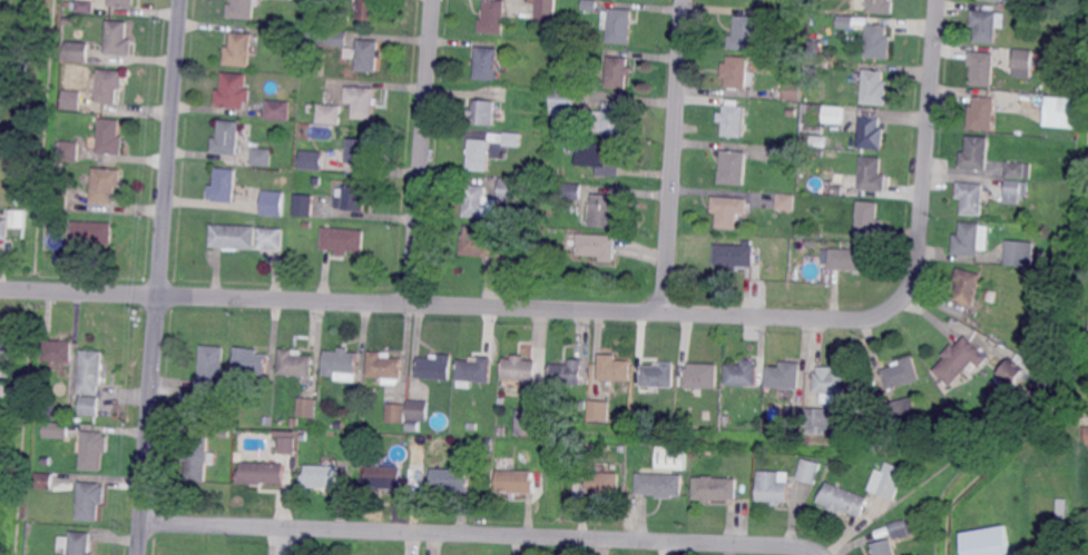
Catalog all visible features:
building: (0, 0)
building: (321, 0)
building: (993, 0)
building: (1011, 1)
building: (122, 2)
building: (68, 4)
building: (591, 4)
building: (36, 6)
building: (73, 6)
building: (86, 6)
building: (880, 7)
building: (243, 9)
building: (546, 9)
building: (369, 10)
building: (1032, 14)
building: (494, 17)
building: (68, 19)
building: (846, 21)
building: (987, 23)
building: (620, 24)
building: (1, 27)
building: (744, 33)
building: (311, 36)
building: (334, 37)
building: (118, 39)
building: (878, 42)
building: (813, 49)
building: (241, 50)
building: (77, 52)
building: (350, 52)
building: (367, 56)
building: (788, 59)
building: (488, 62)
building: (1022, 62)
building: (983, 68)
building: (808, 70)
building: (620, 71)
building: (19, 73)
building: (737, 73)
building: (109, 86)
building: (874, 87)
building: (792, 88)
building: (235, 90)
building: (75, 99)
building: (563, 99)
building: (362, 101)
building: (280, 109)
building: (312, 109)
building: (484, 111)
building: (1061, 112)
building: (331, 113)
building: (791, 113)
building: (984, 113)
building: (834, 115)
building: (615, 118)
building: (734, 120)
building: (553, 129)
building: (870, 133)
building: (110, 138)
building: (229, 138)
building: (802, 141)
road: (675, 145)
building: (837, 146)
road: (927, 146)
building: (489, 149)
building: (69, 151)
building: (360, 151)
road: (423, 152)
building: (977, 152)
building: (263, 156)
building: (788, 156)
building: (311, 158)
building: (600, 158)
building: (59, 167)
building: (734, 167)
building: (1020, 169)
building: (873, 175)
building: (107, 185)
building: (225, 186)
building: (509, 189)
building: (1017, 190)
building: (60, 191)
building: (572, 191)
building: (810, 197)
building: (973, 197)
building: (352, 199)
building: (477, 201)
building: (786, 201)
building: (20, 202)
building: (273, 204)
building: (305, 205)
building: (729, 210)
building: (604, 211)
building: (17, 215)
building: (52, 218)
building: (869, 224)
building: (307, 225)
building: (1042, 228)
building: (4, 229)
building: (92, 234)
building: (808, 234)
building: (235, 236)
building: (272, 238)
building: (971, 239)
building: (344, 240)
building: (481, 242)
building: (597, 245)
building: (1020, 254)
building: (734, 256)
building: (853, 259)
road: (160, 277)
building: (968, 286)
road: (101, 293)
building: (992, 296)
road: (664, 301)
road: (396, 304)
road: (627, 311)
road: (791, 317)
building: (6, 349)
building: (58, 351)
building: (962, 359)
building: (252, 363)
building: (341, 363)
building: (296, 364)
building: (9, 365)
building: (438, 366)
building: (214, 367)
building: (388, 367)
building: (615, 367)
building: (523, 369)
building: (477, 370)
building: (92, 371)
building: (569, 371)
building: (1013, 371)
building: (743, 373)
building: (901, 374)
building: (784, 375)
building: (658, 376)
building: (703, 376)
building: (832, 381)
building: (1038, 388)
building: (624, 389)
building: (502, 400)
building: (90, 406)
building: (582, 406)
building: (308, 407)
building: (900, 408)
building: (420, 409)
building: (598, 410)
building: (48, 413)
building: (399, 413)
building: (705, 416)
building: (795, 416)
building: (78, 419)
building: (726, 419)
building: (821, 420)
building: (214, 422)
building: (267, 422)
building: (294, 422)
building: (529, 424)
building: (414, 426)
building: (473, 426)
building: (1087, 427)
building: (58, 429)
building: (501, 432)
building: (225, 435)
building: (489, 442)
building: (288, 445)
building: (96, 449)
building: (697, 455)
building: (198, 458)
building: (673, 458)
building: (584, 463)
building: (811, 470)
building: (262, 474)
building: (322, 476)
building: (386, 478)
building: (452, 479)
building: (46, 480)
building: (889, 480)
building: (516, 482)
building: (605, 483)
building: (658, 485)
building: (773, 487)
building: (716, 488)
building: (91, 499)
building: (845, 499)
building: (1064, 507)
building: (903, 529)
road: (483, 534)
building: (987, 542)
building: (77, 543)
building: (884, 548)

